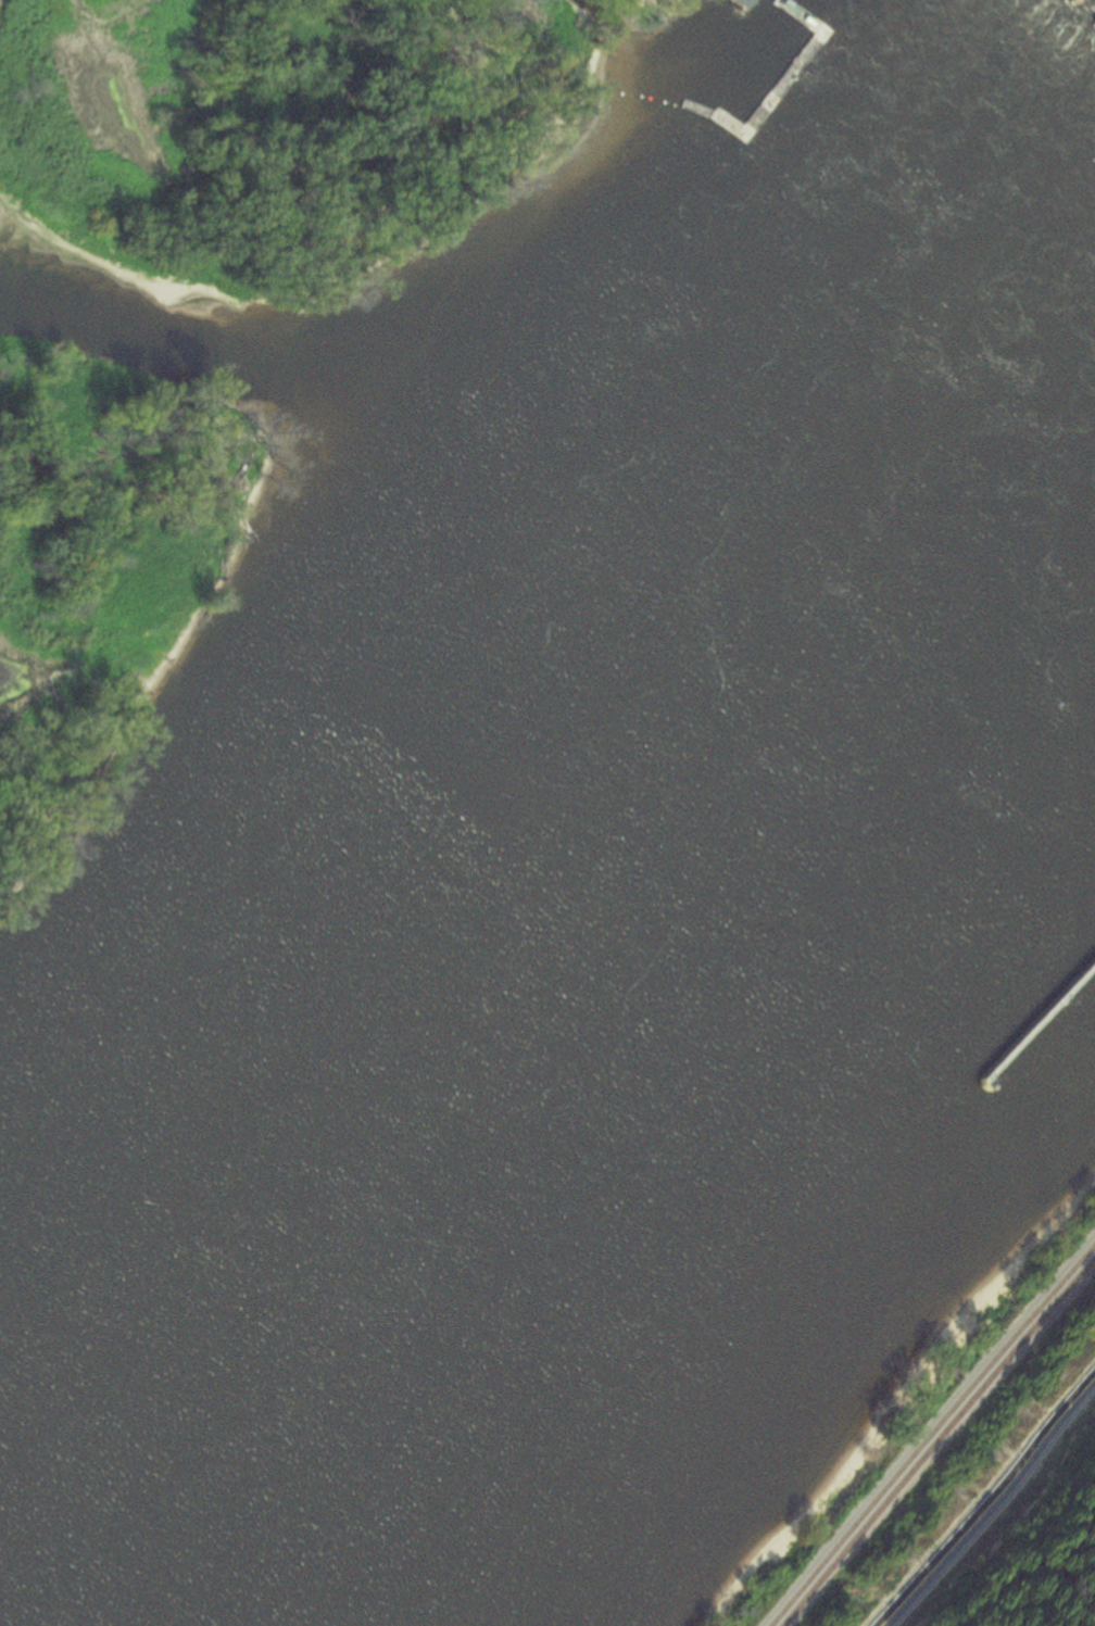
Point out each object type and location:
building: (741, 2)
river: (577, 1247)
railway: (931, 1434)
railway: (937, 1444)
road: (991, 1507)

